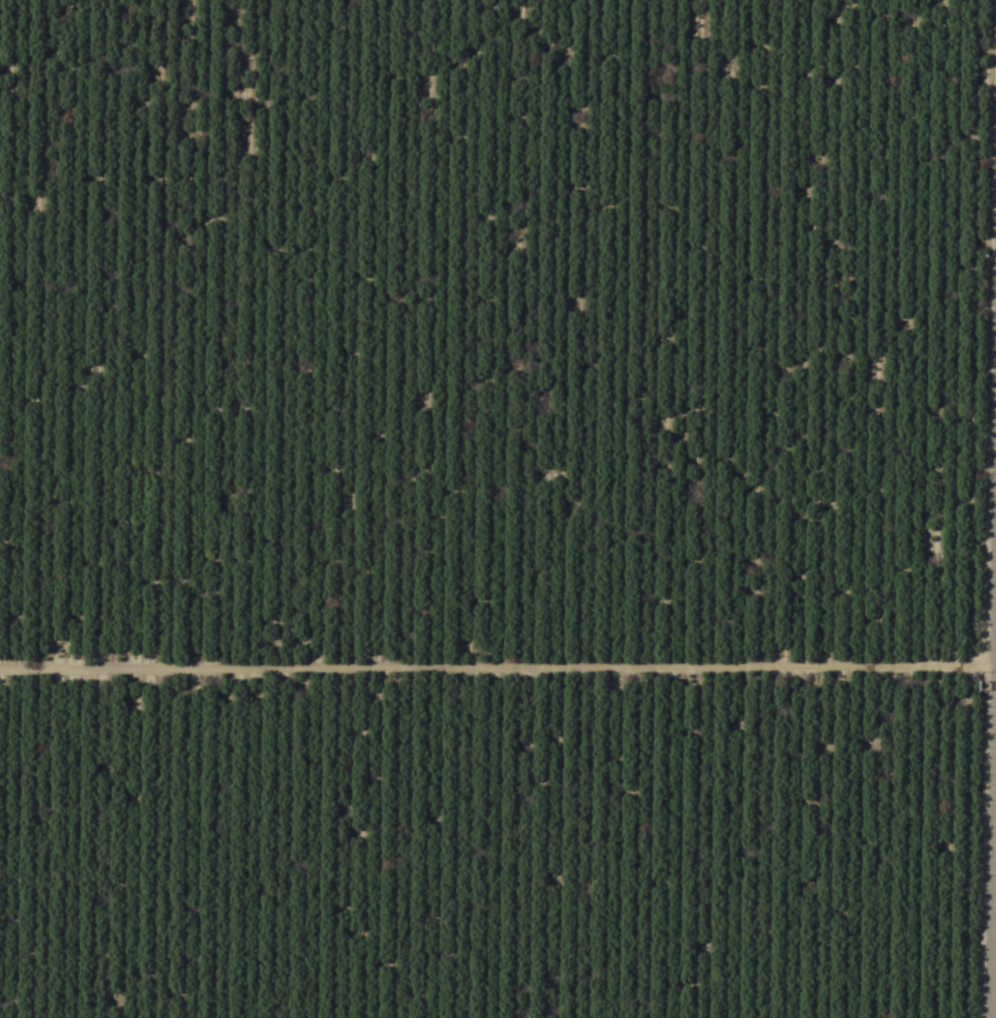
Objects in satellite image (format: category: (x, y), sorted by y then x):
crop: (498, 509)
road: (995, 964)

